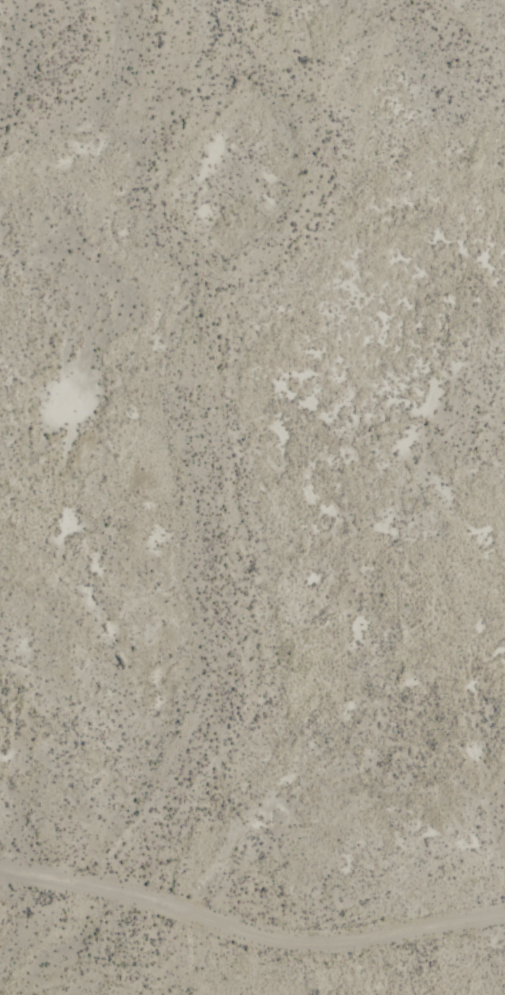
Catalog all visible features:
road: (250, 930)

